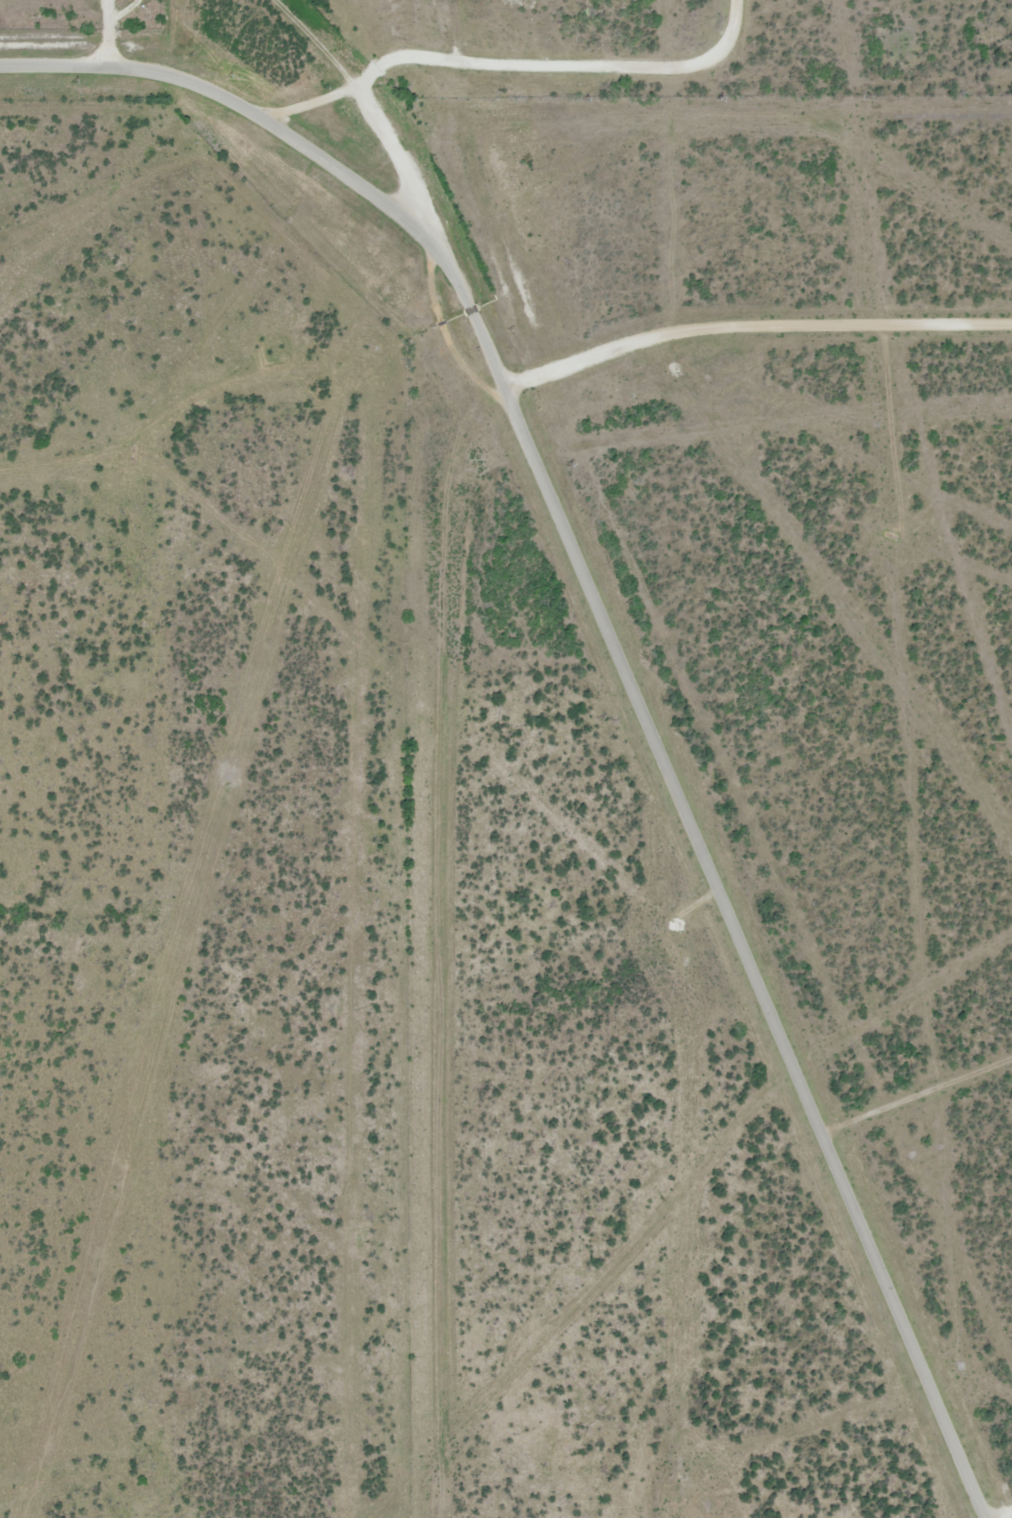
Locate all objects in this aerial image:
road: (511, 63)
road: (132, 65)
road: (752, 332)
road: (672, 781)
road: (924, 1086)

